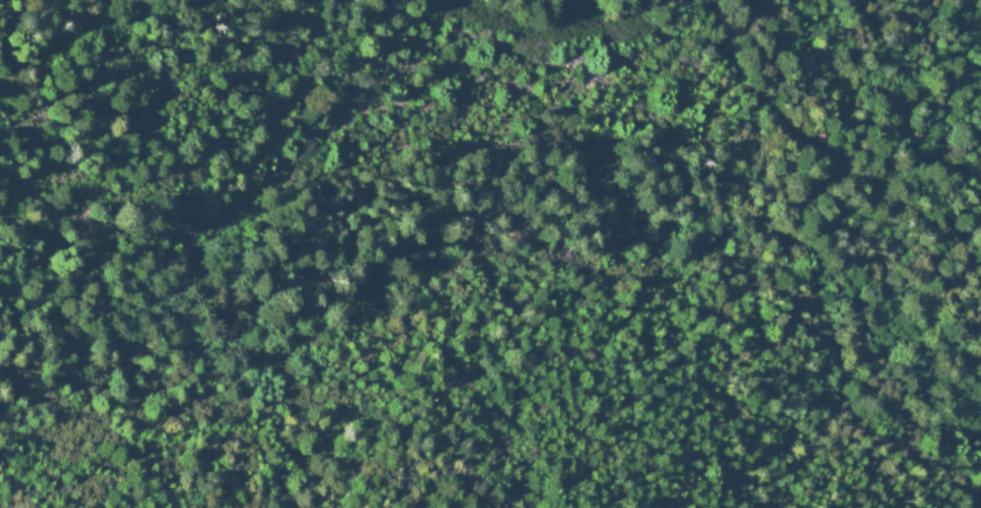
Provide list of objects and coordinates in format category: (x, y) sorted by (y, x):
road: (20, 16)
road: (738, 114)

